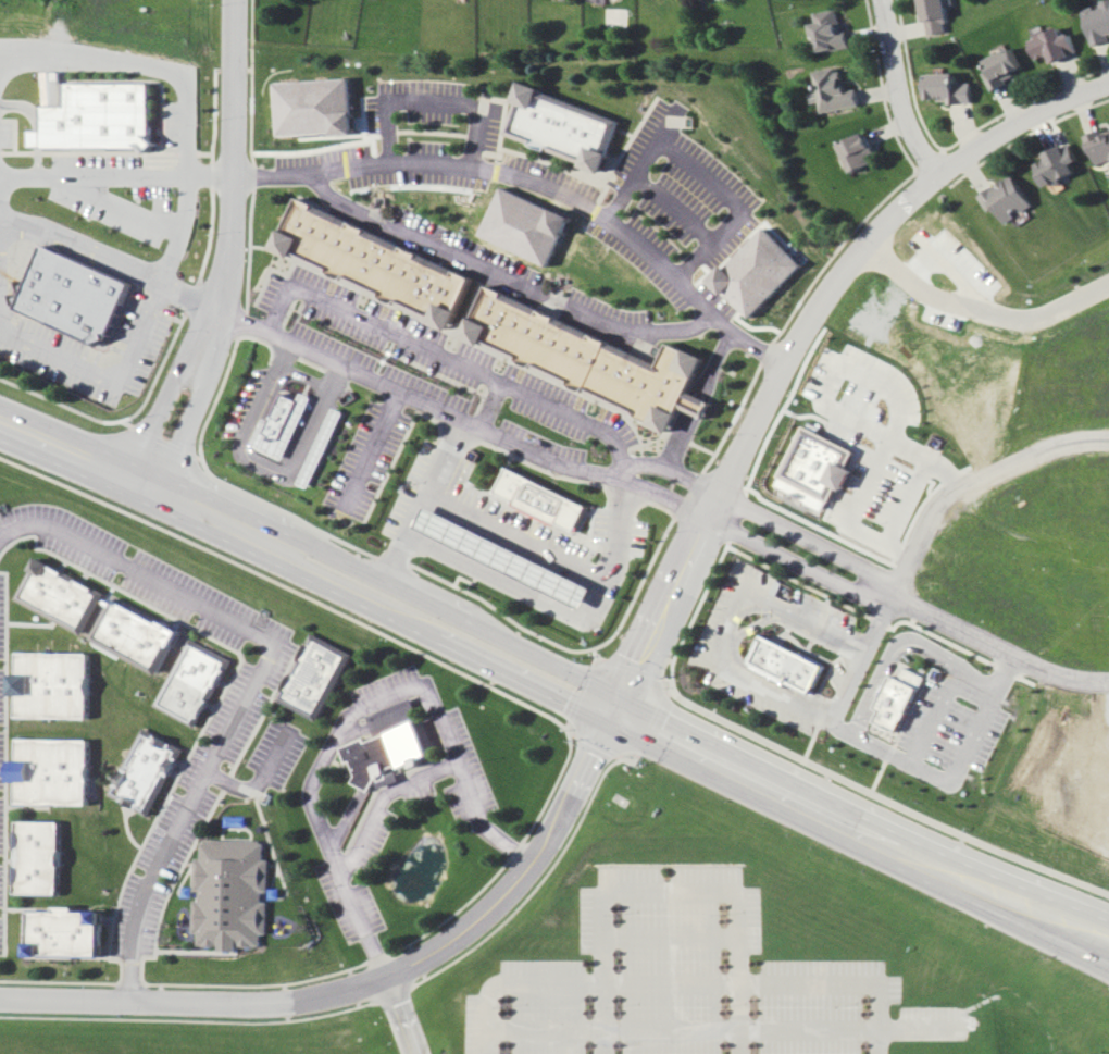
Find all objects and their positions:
building: (936, 16)
building: (1099, 23)
building: (830, 30)
building: (1054, 44)
road: (165, 67)
building: (1005, 67)
building: (949, 88)
building: (833, 90)
road: (901, 90)
road: (434, 97)
building: (317, 107)
building: (101, 119)
building: (560, 123)
road: (1021, 128)
building: (1100, 147)
building: (858, 152)
building: (1060, 164)
road: (510, 174)
road: (701, 174)
road: (119, 175)
building: (1009, 198)
road: (120, 203)
building: (527, 226)
road: (236, 250)
road: (116, 260)
building: (376, 260)
building: (757, 272)
road: (504, 278)
building: (79, 297)
road: (981, 311)
road: (283, 354)
road: (444, 355)
building: (590, 359)
road: (124, 363)
road: (345, 368)
road: (711, 371)
road: (306, 377)
road: (260, 405)
road: (825, 406)
building: (283, 424)
road: (751, 427)
building: (323, 447)
road: (308, 450)
road: (372, 450)
building: (821, 466)
road: (132, 475)
road: (974, 483)
road: (621, 484)
building: (541, 498)
road: (696, 500)
road: (705, 503)
road: (514, 534)
road: (810, 538)
building: (507, 558)
gas station: (507, 558)
road: (798, 562)
building: (62, 594)
road: (445, 611)
road: (880, 622)
road: (435, 630)
building: (138, 634)
road: (998, 649)
road: (710, 655)
building: (789, 662)
building: (314, 677)
building: (194, 682)
road: (259, 682)
building: (54, 685)
building: (900, 697)
road: (933, 706)
road: (352, 711)
traffic signals: (618, 714)
road: (844, 721)
road: (862, 732)
building: (391, 745)
building: (147, 770)
building: (53, 771)
road: (748, 778)
road: (262, 782)
road: (384, 799)
building: (38, 857)
road: (995, 873)
building: (235, 893)
road: (666, 895)
road: (992, 905)
building: (64, 931)
road: (683, 983)
road: (375, 987)
road: (409, 1017)

